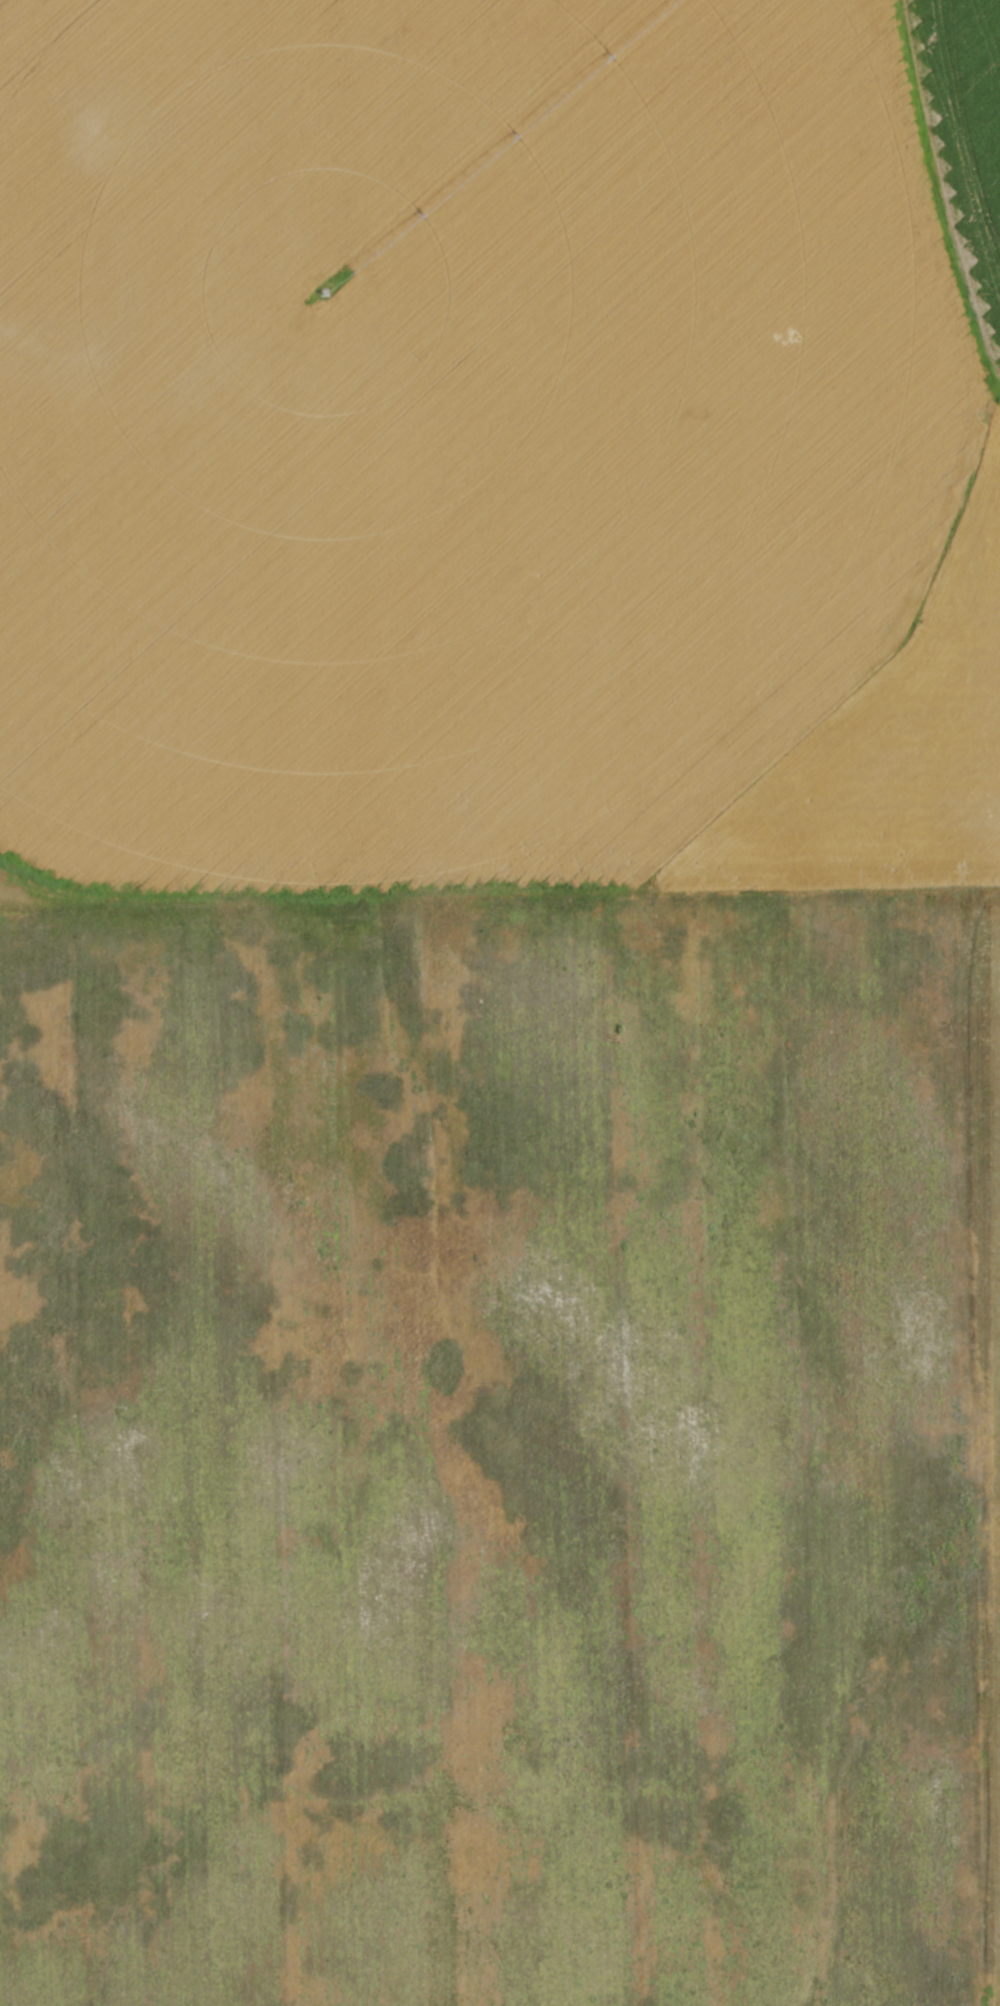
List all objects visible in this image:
road: (990, 1456)

